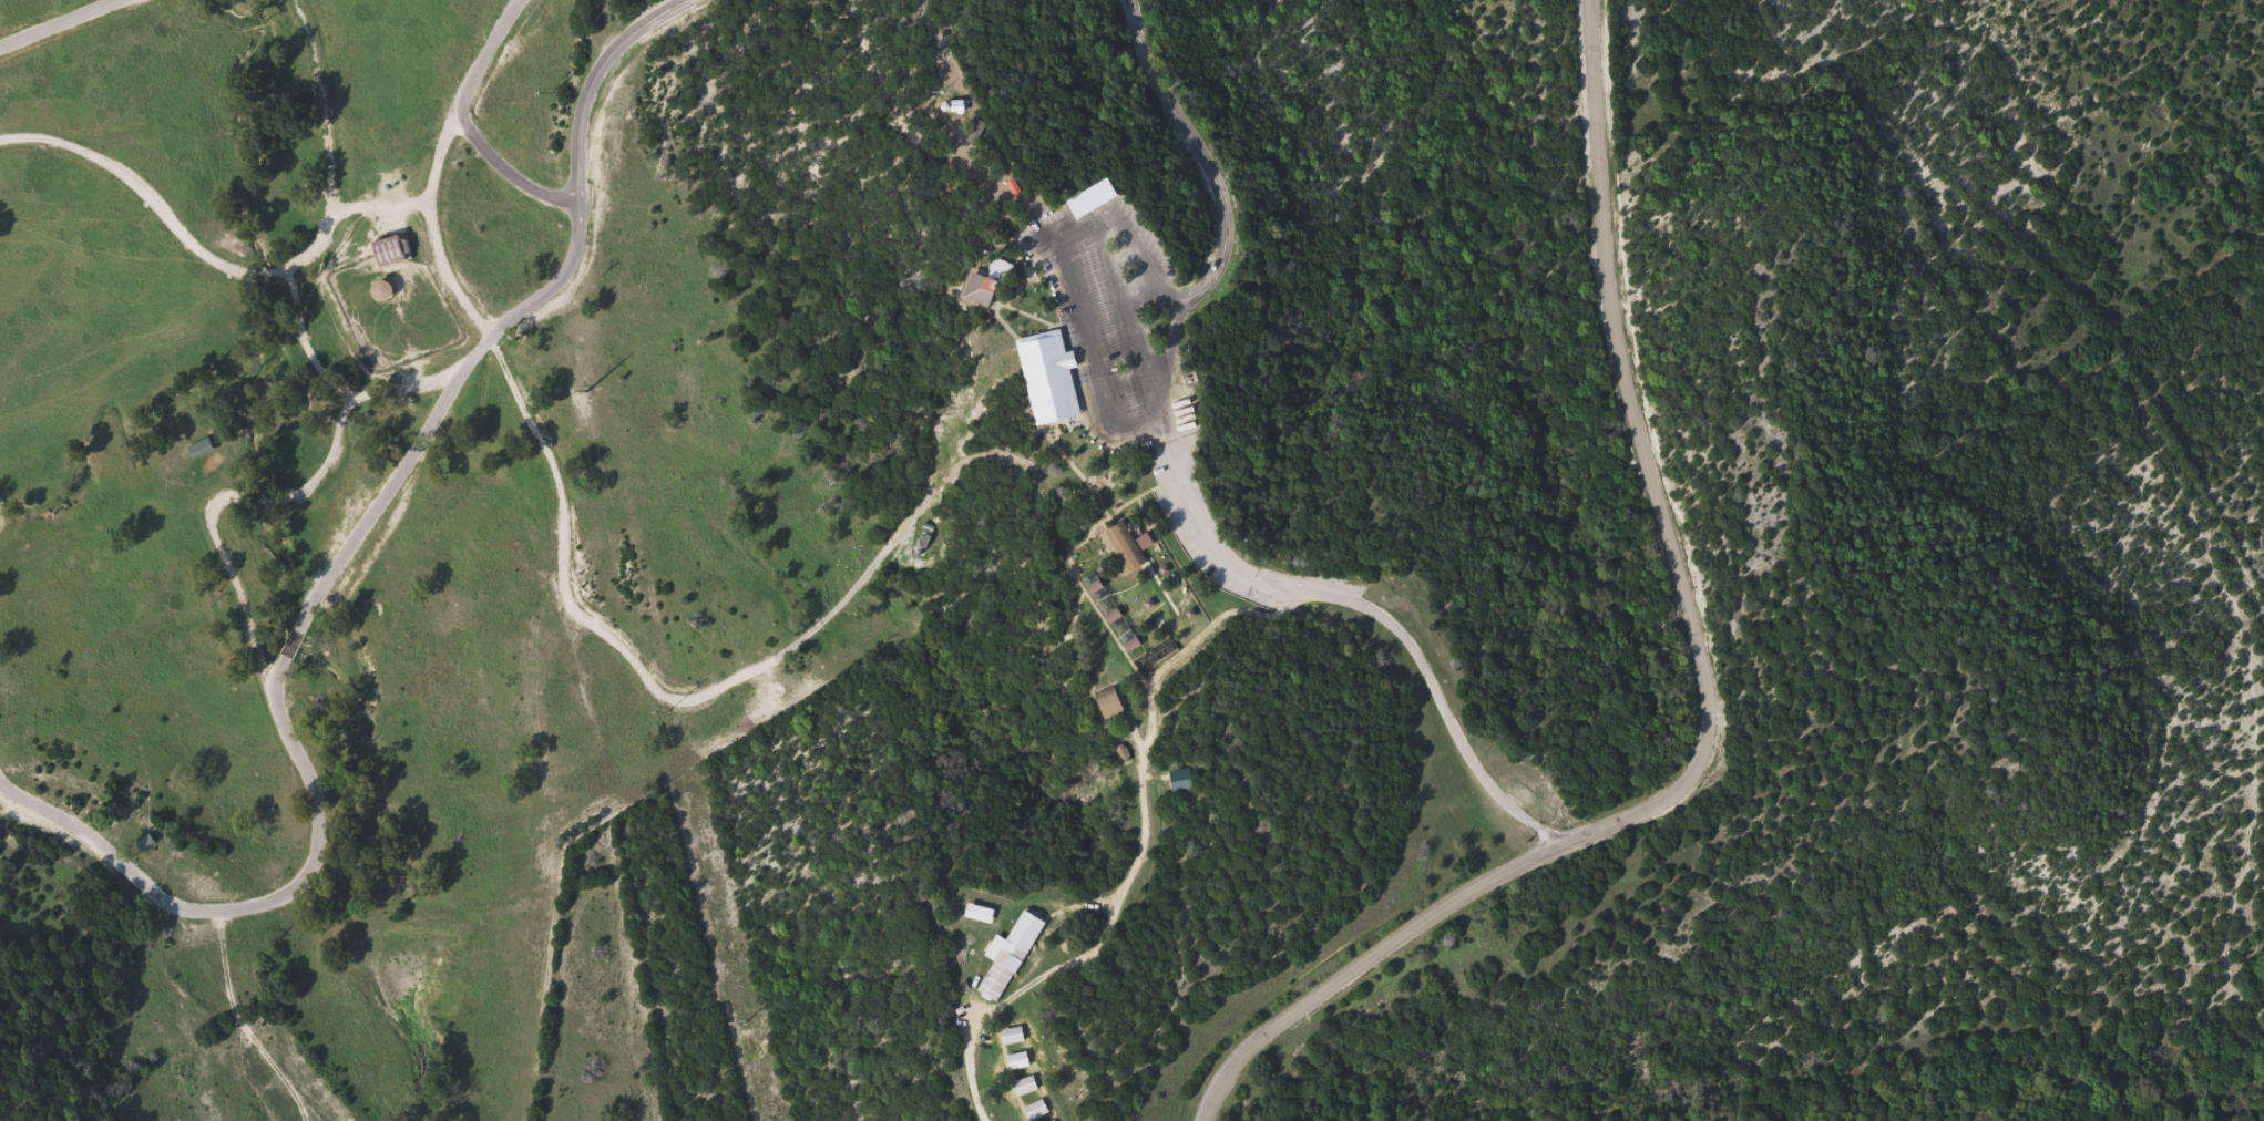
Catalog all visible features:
road: (52, 20)
road: (469, 109)
road: (320, 136)
road: (581, 166)
road: (513, 169)
road: (154, 209)
building: (391, 250)
building: (987, 287)
building: (382, 290)
building: (1079, 366)
road: (1180, 496)
building: (1125, 547)
road: (565, 611)
road: (1707, 689)
road: (270, 697)
building: (1110, 703)
building: (153, 846)
building: (981, 914)
building: (1005, 966)
building: (1014, 1036)
building: (1020, 1060)
road: (973, 1082)
building: (1027, 1086)
building: (1037, 1110)
building: (1055, 1120)

